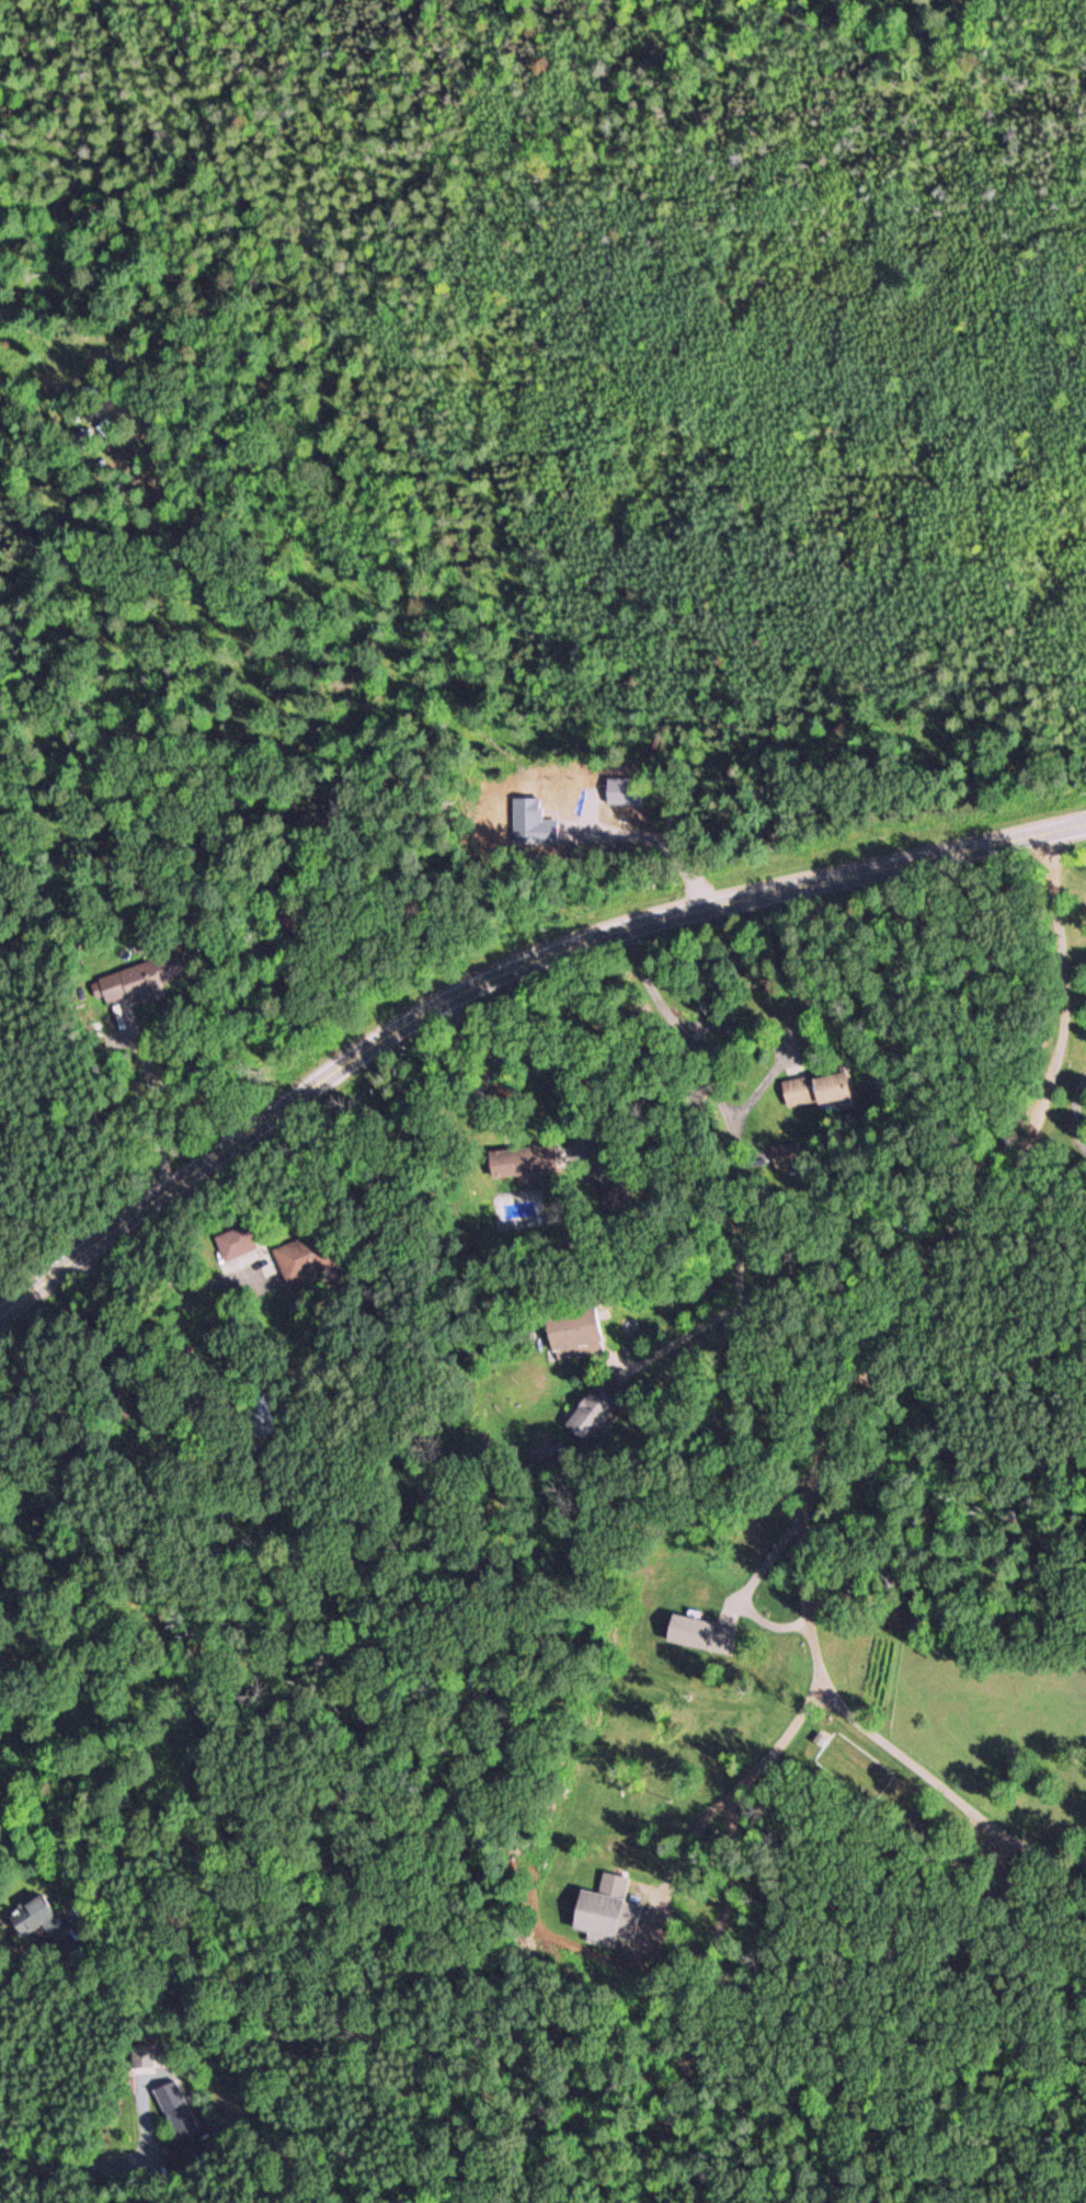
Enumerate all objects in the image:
road: (499, 977)
building: (134, 982)
road: (797, 1012)
building: (813, 1088)
building: (784, 1153)
building: (517, 1160)
building: (235, 1241)
building: (307, 1254)
road: (594, 1279)
building: (572, 1332)
building: (588, 1413)
road: (777, 1498)
building: (699, 1633)
road: (748, 1692)
building: (598, 1909)
building: (38, 1916)
road: (8, 2001)
building: (141, 2057)
building: (172, 2108)
road: (107, 2161)

